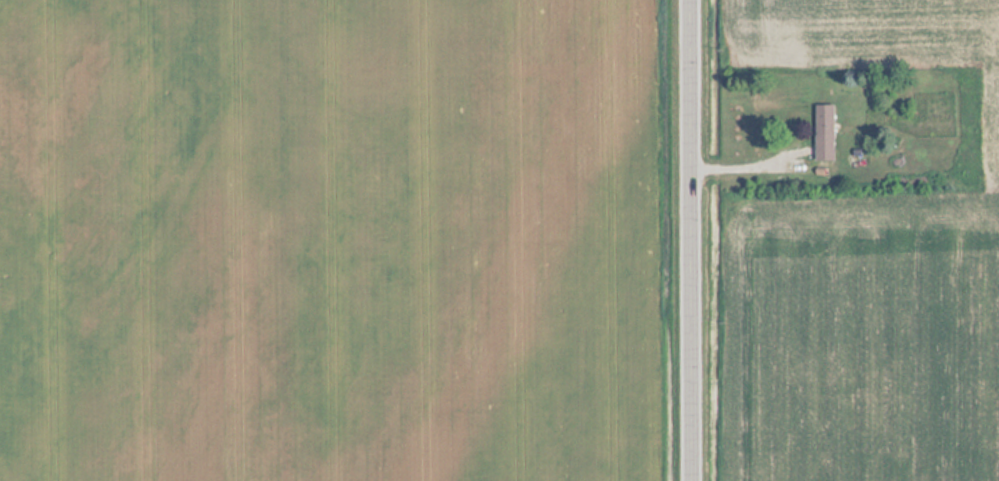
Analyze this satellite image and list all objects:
building: (823, 131)
road: (691, 240)

